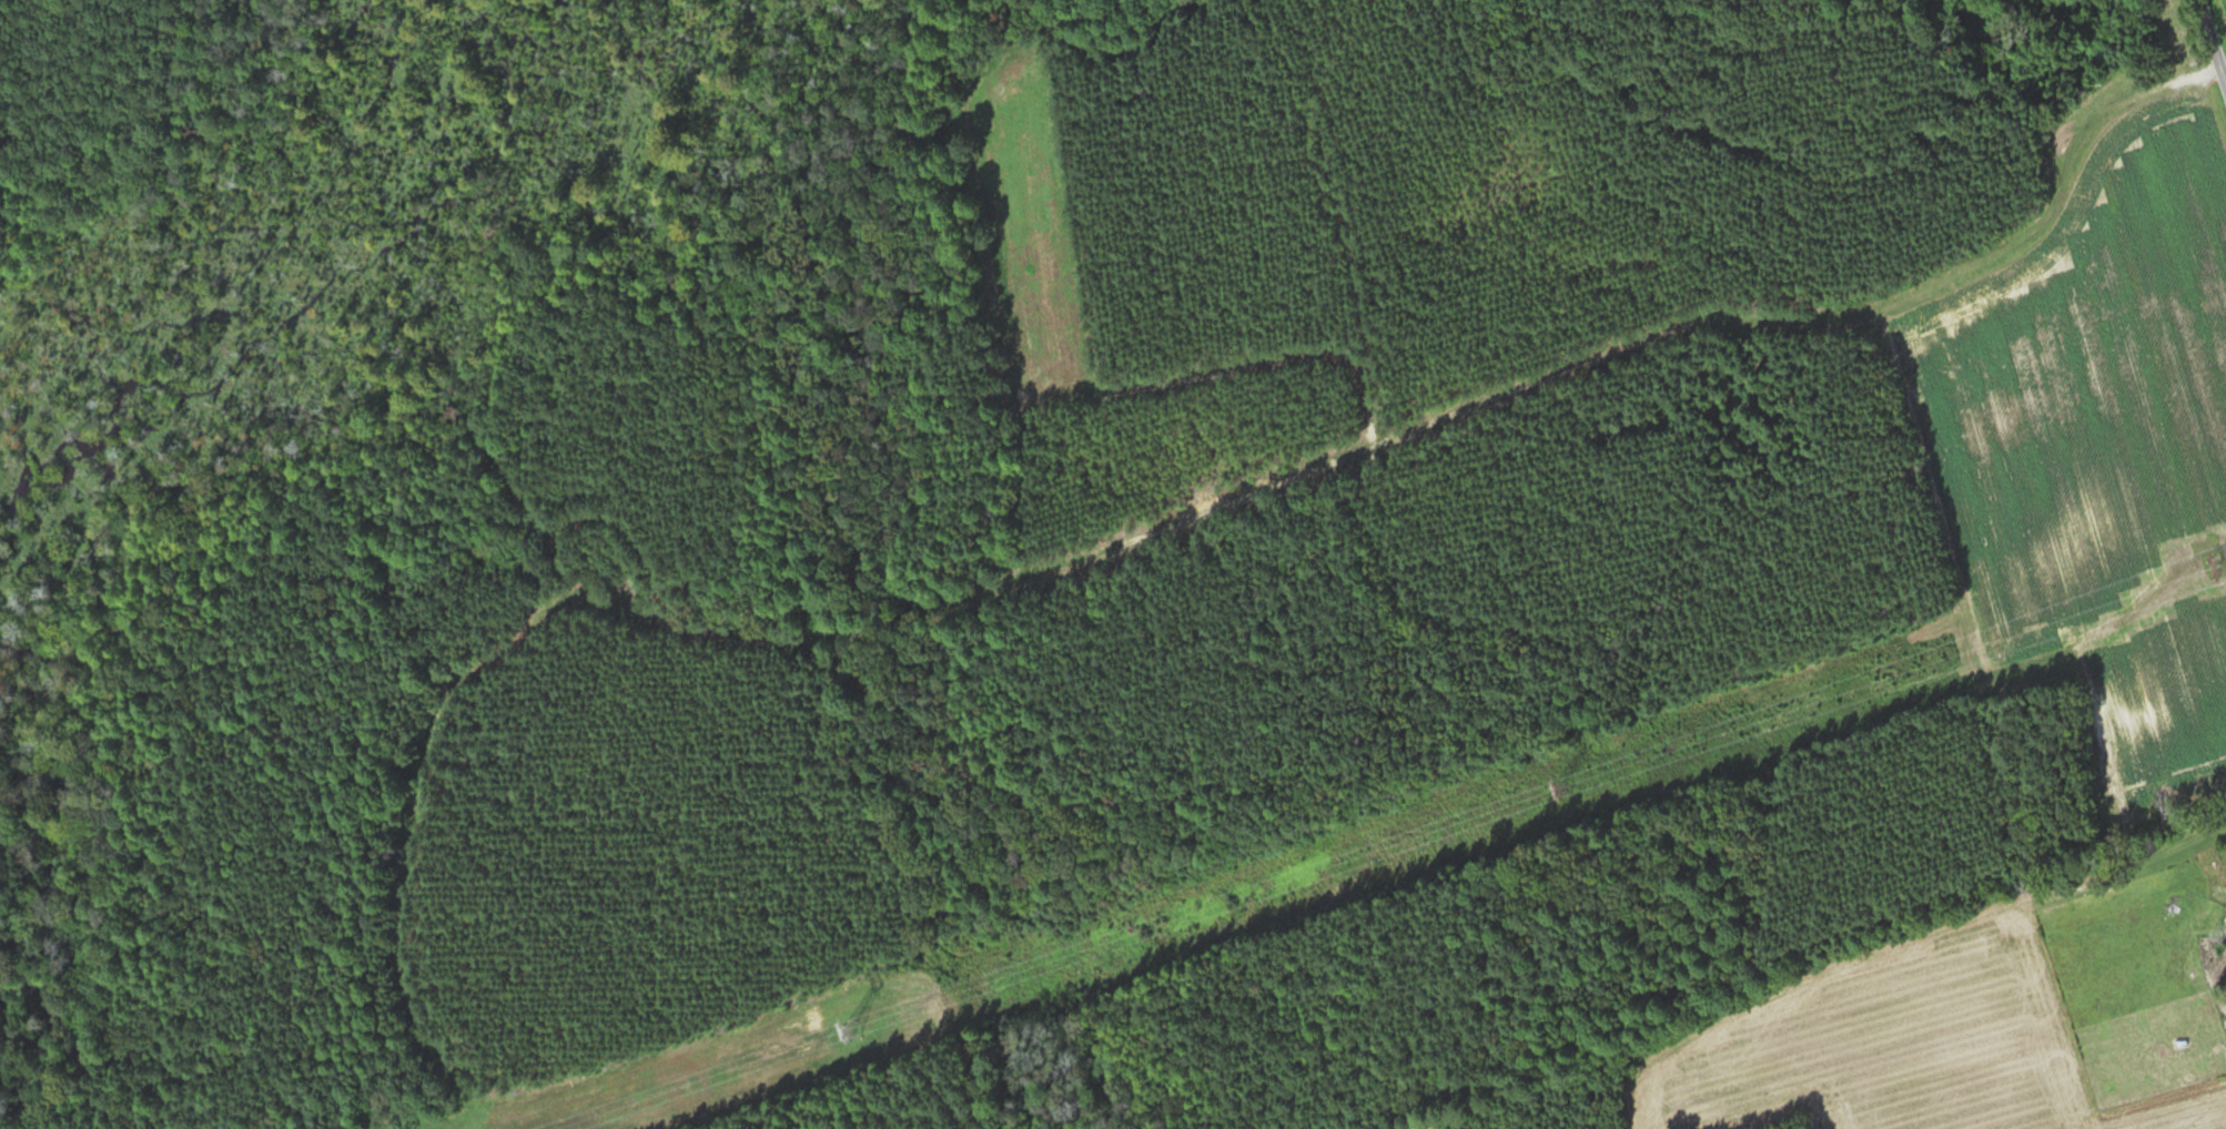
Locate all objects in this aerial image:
road: (2213, 41)
building: (1961, 98)
building: (2225, 919)
building: (2220, 968)

